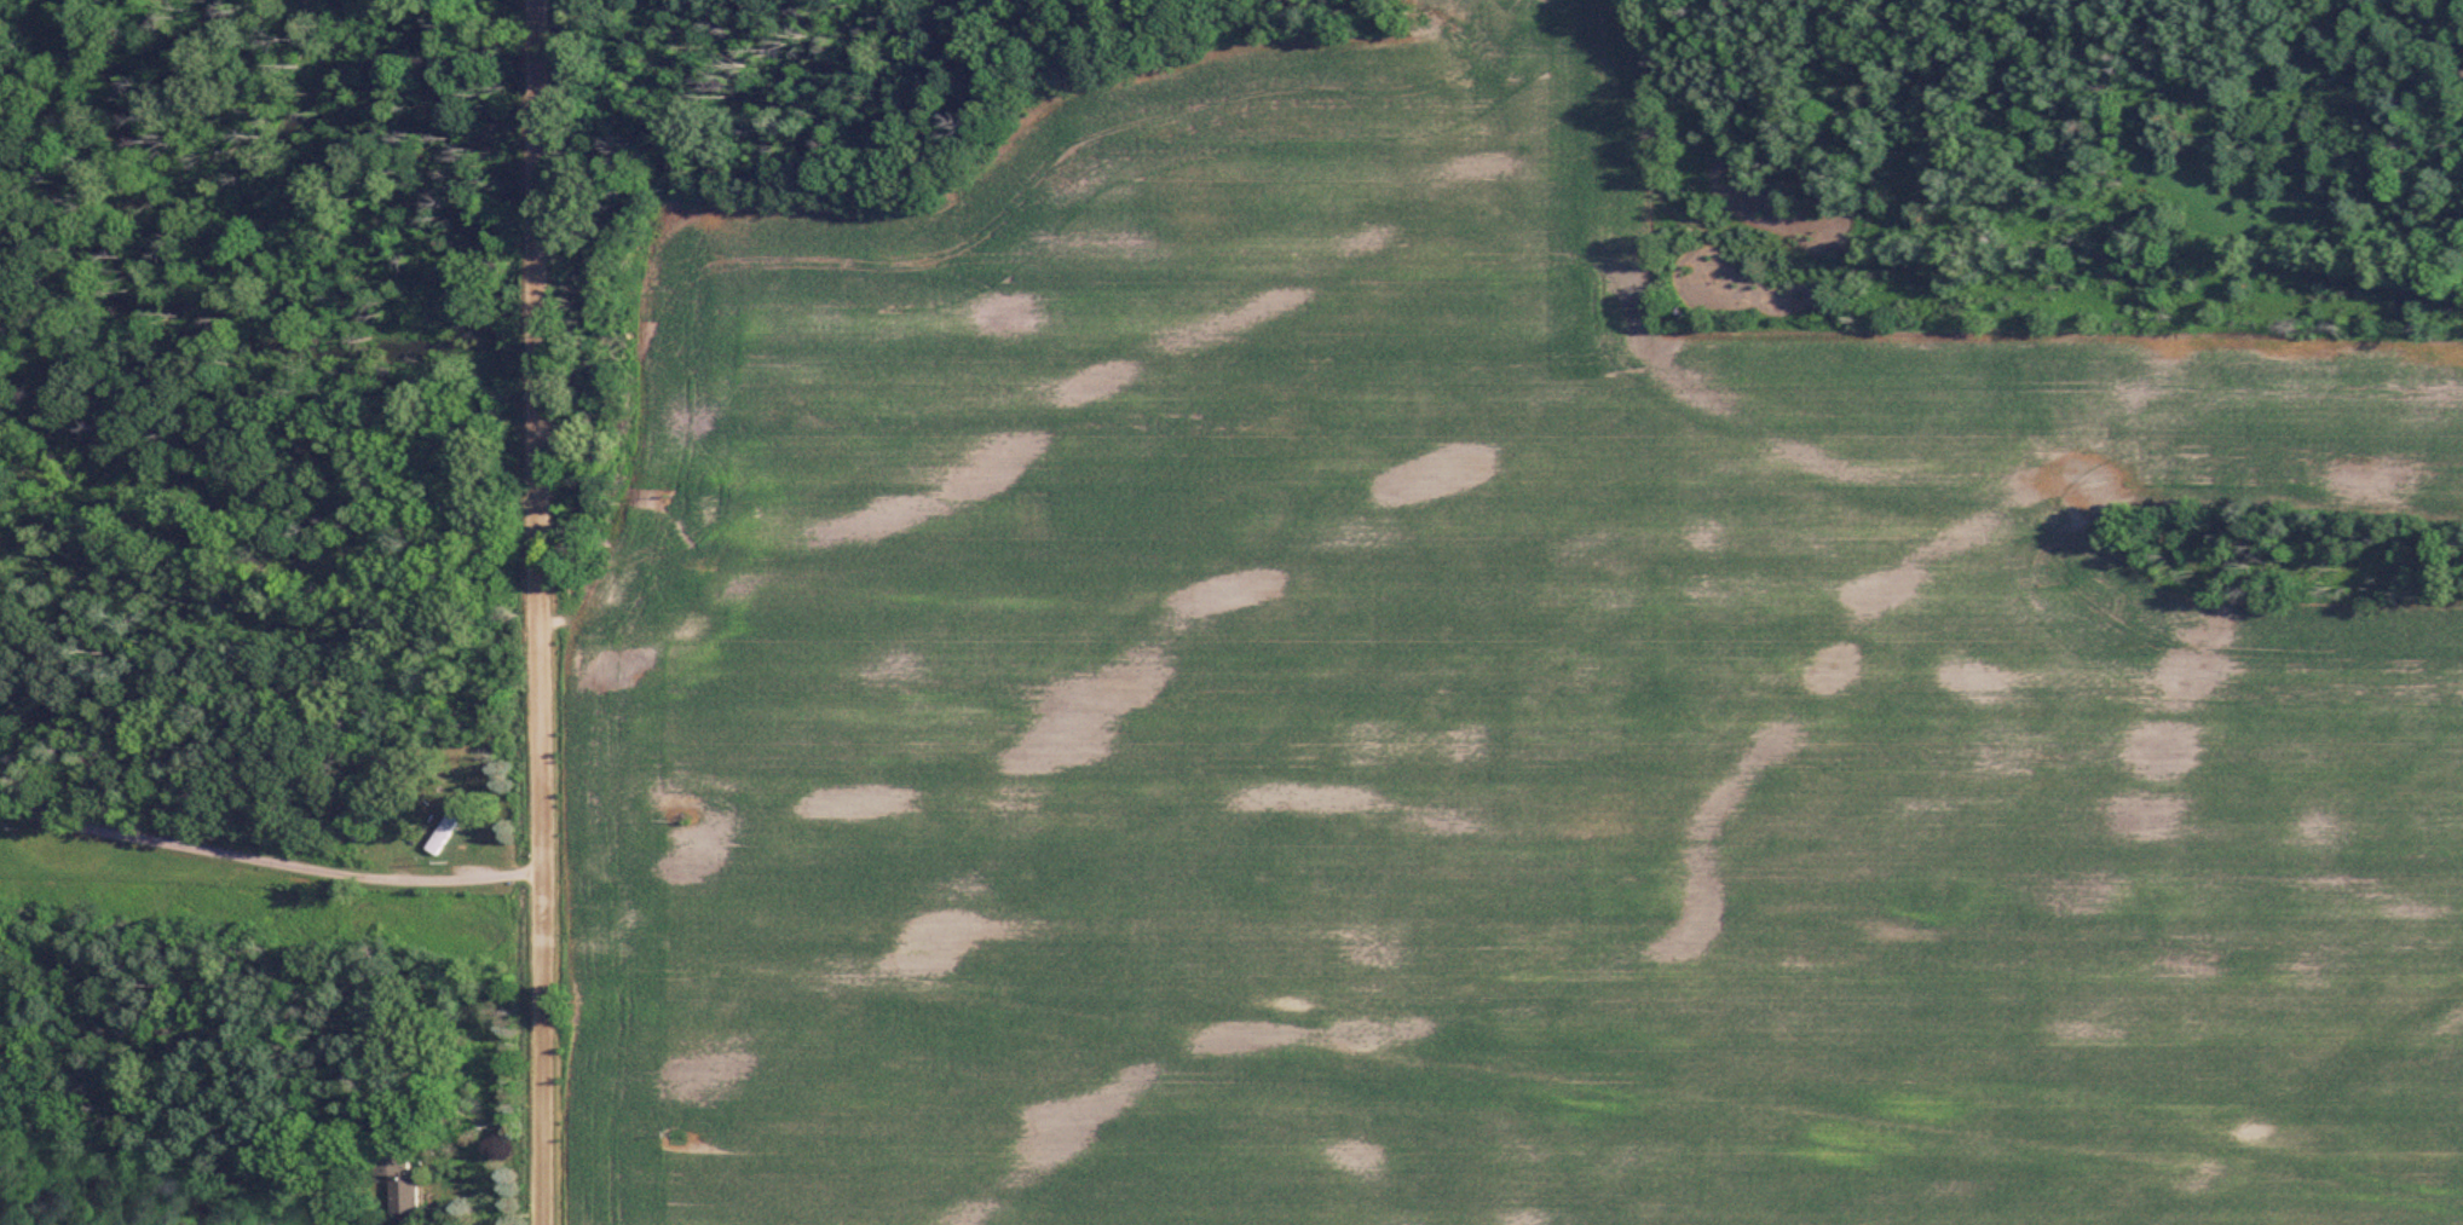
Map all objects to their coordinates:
road: (541, 612)
building: (450, 833)
road: (264, 856)
building: (411, 1184)

